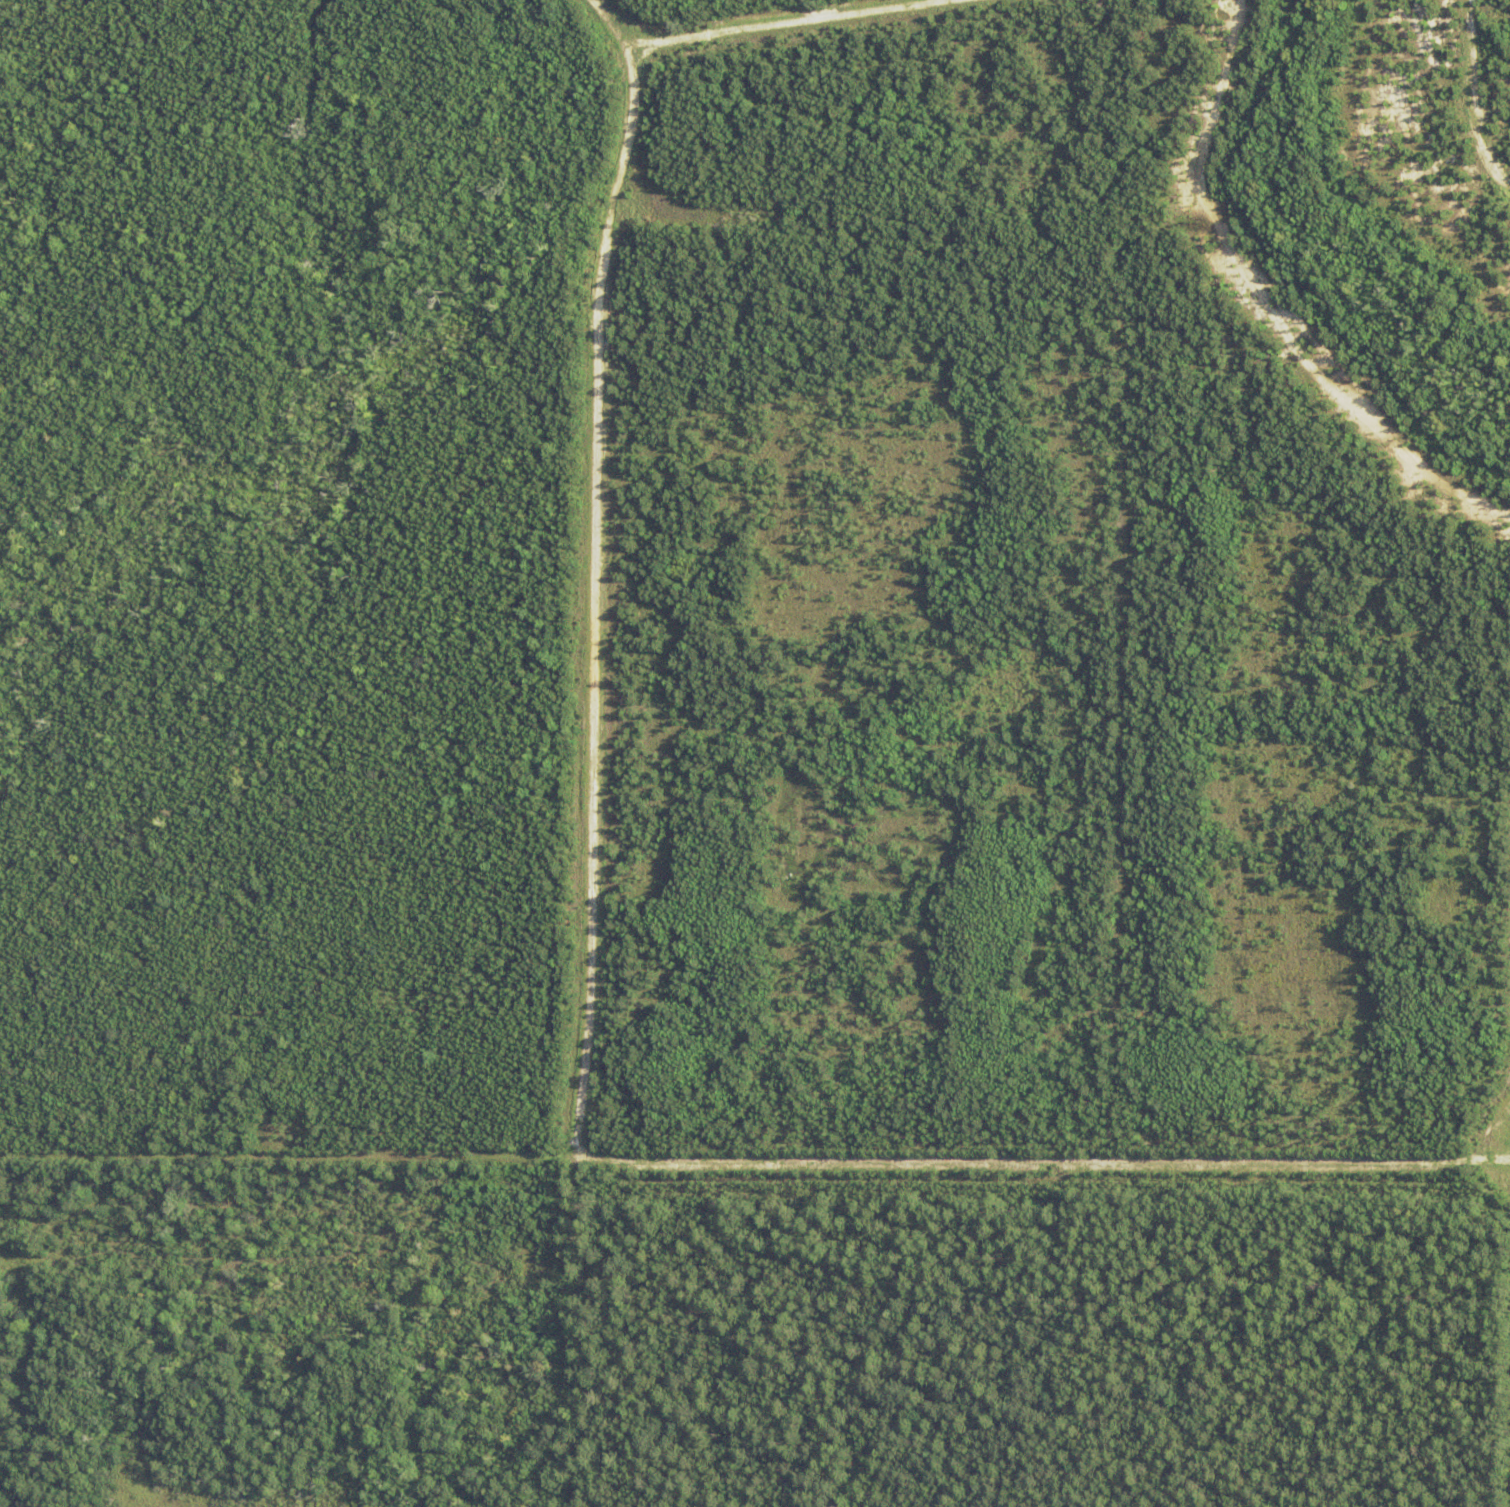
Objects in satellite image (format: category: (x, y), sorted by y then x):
road: (857, 42)
road: (567, 785)
road: (753, 1202)

